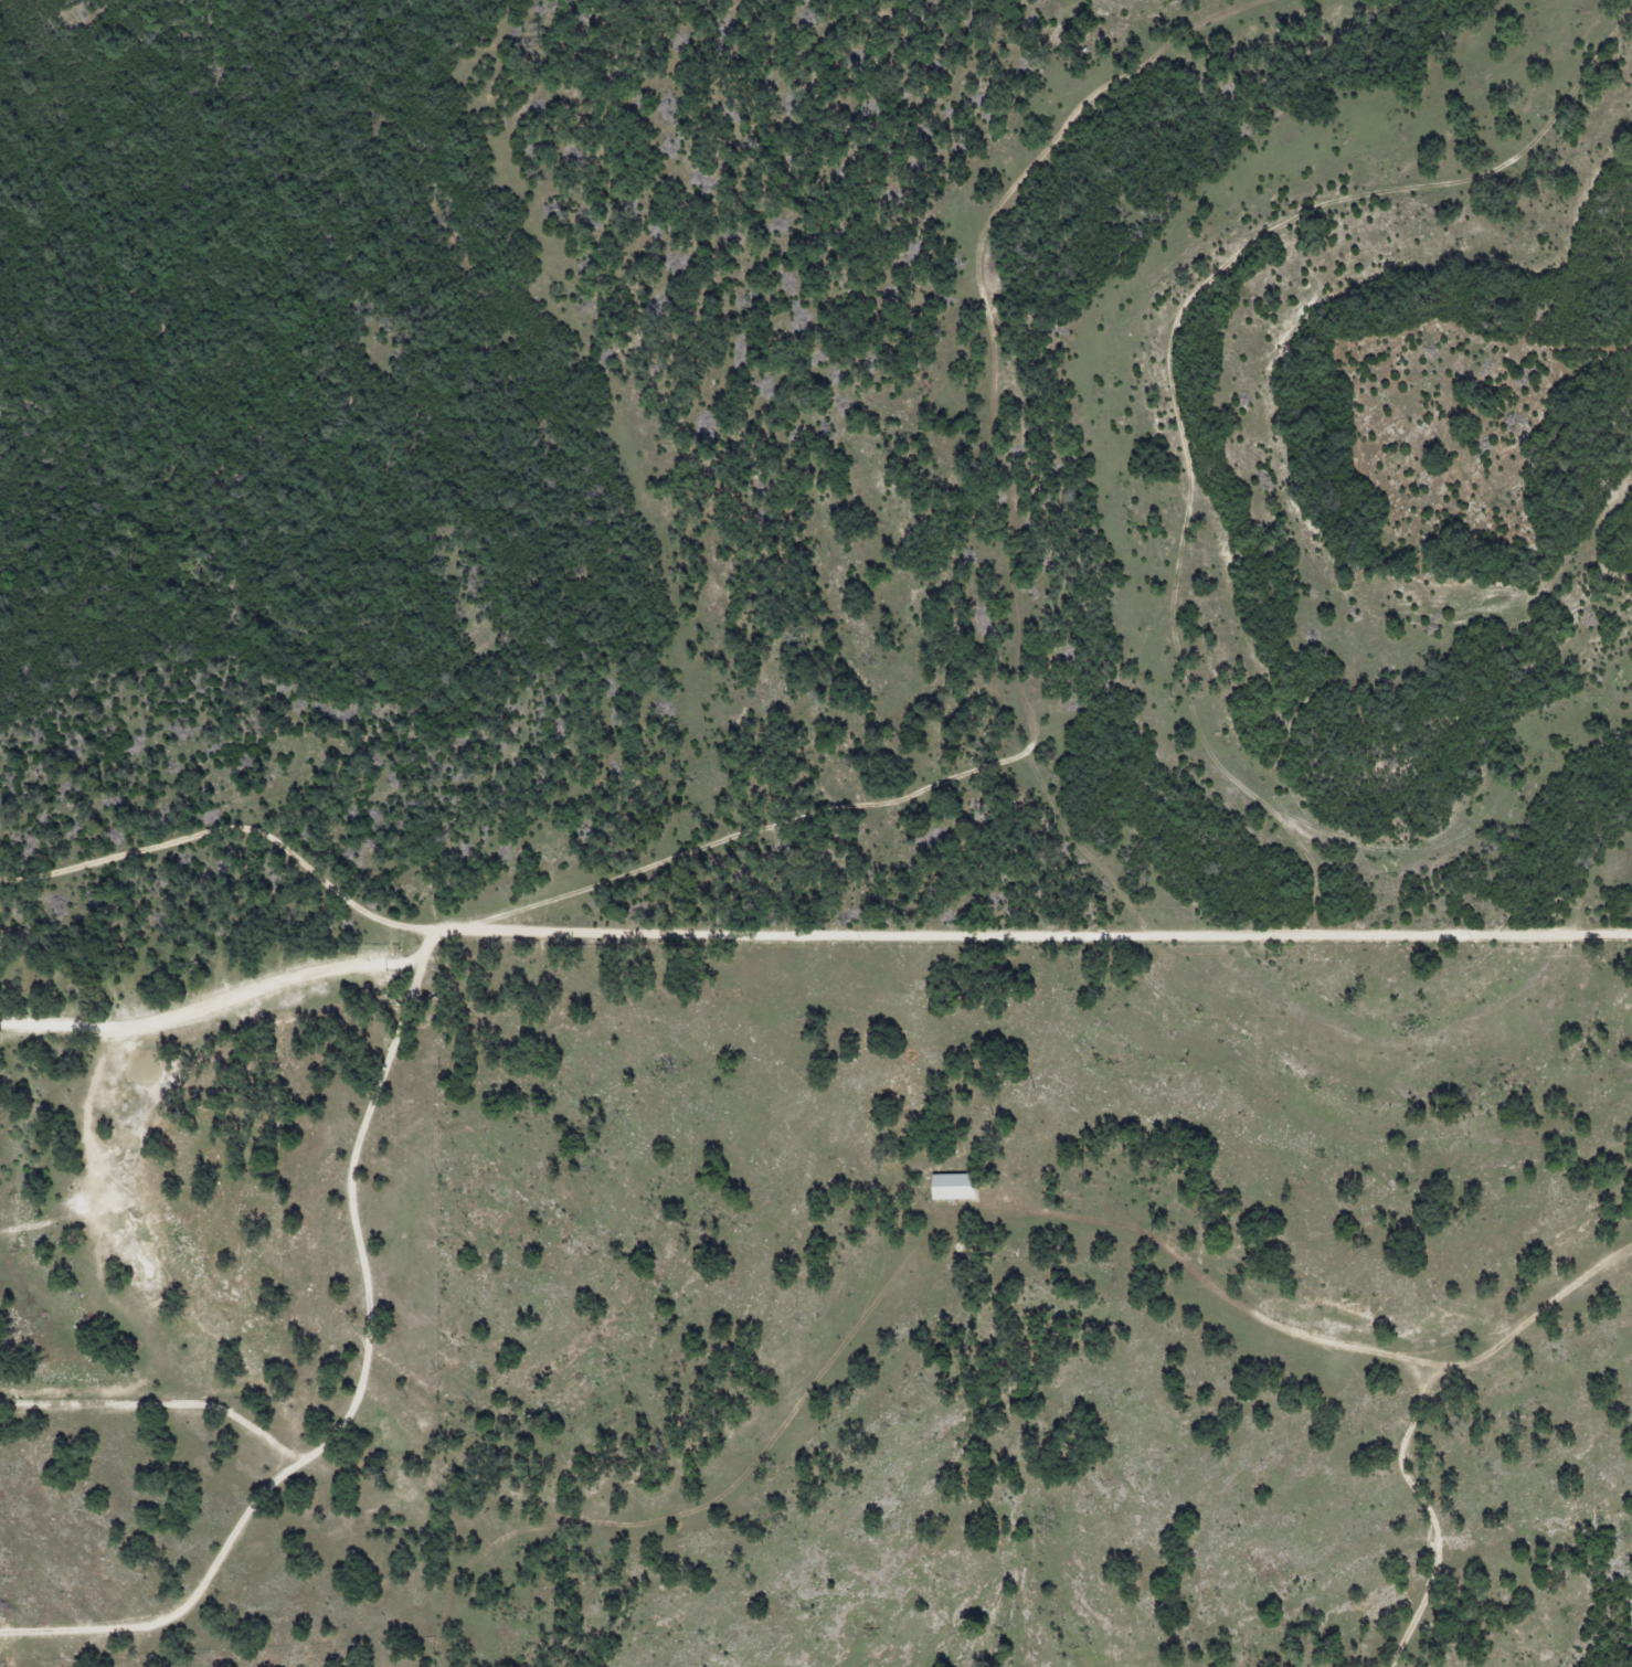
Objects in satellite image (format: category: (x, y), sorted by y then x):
road: (981, 748)
road: (1034, 935)
road: (423, 955)
road: (211, 1005)
building: (951, 1187)

